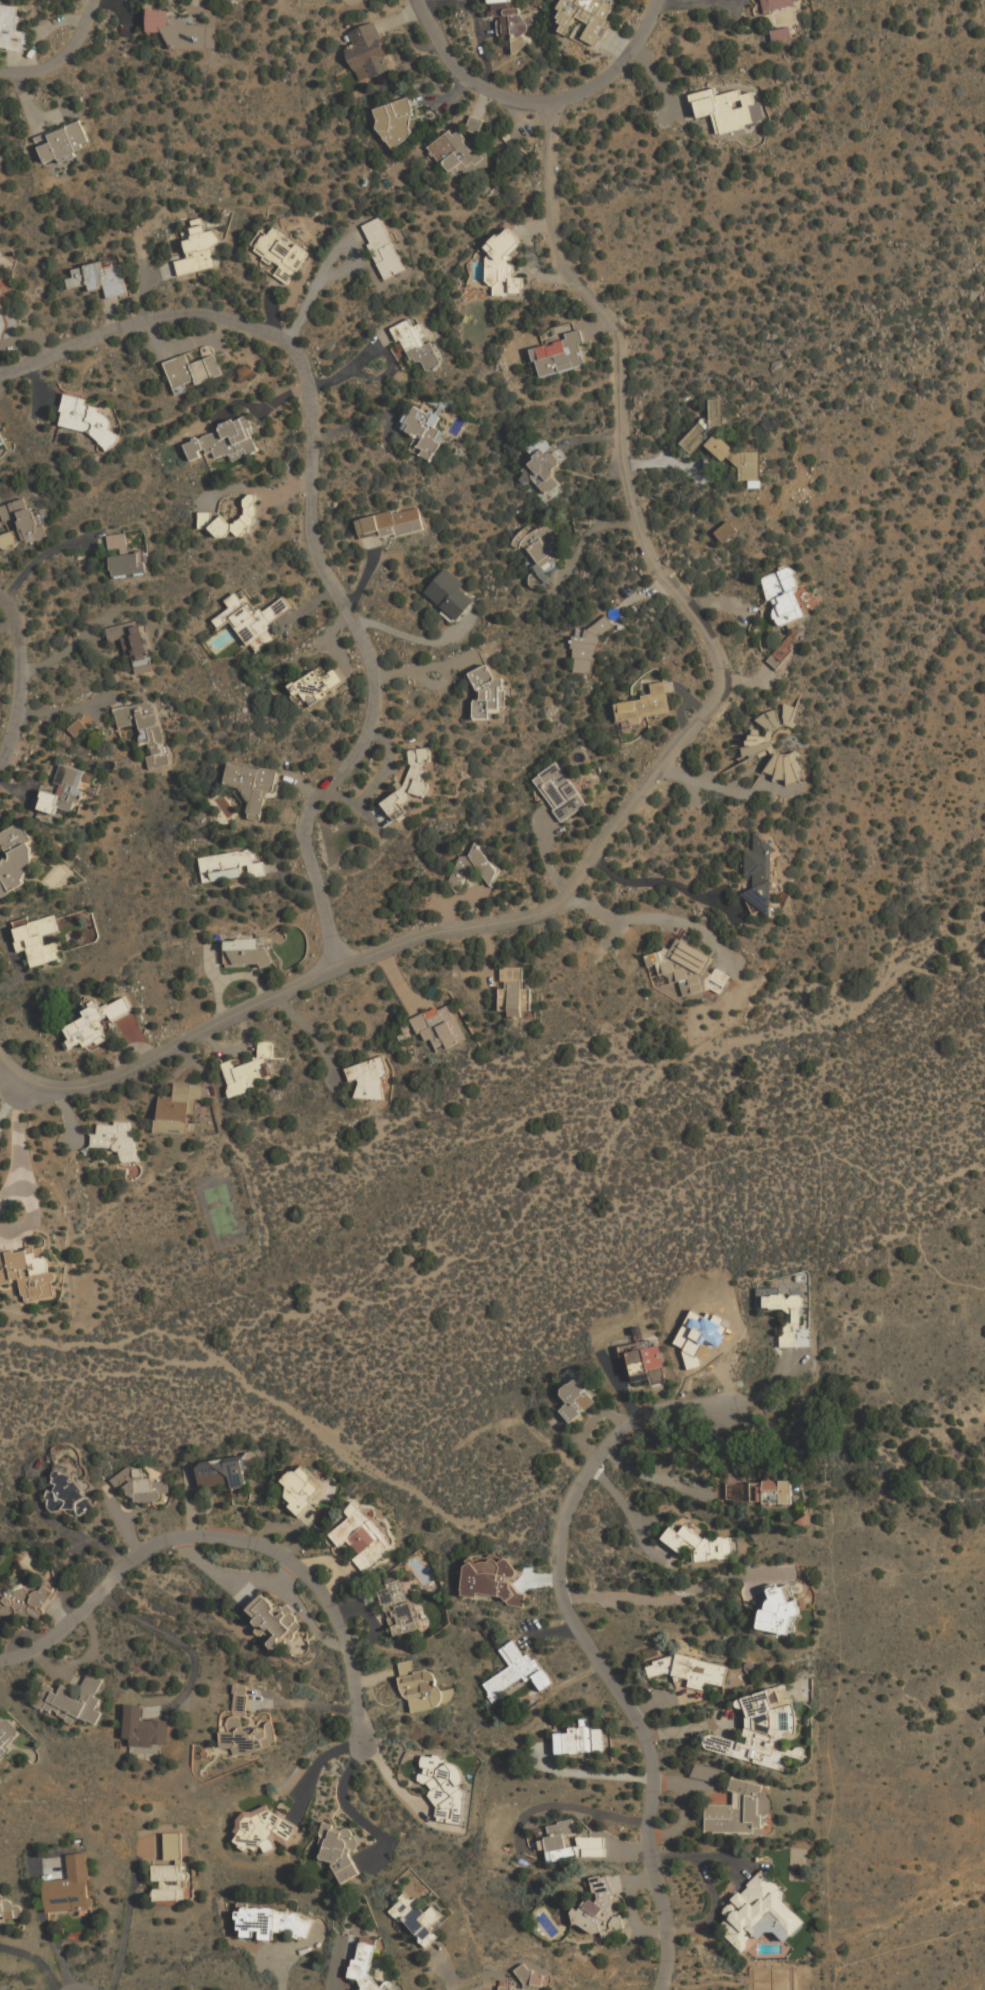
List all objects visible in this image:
building: (775, 4)
building: (586, 17)
building: (512, 18)
building: (12, 29)
building: (176, 30)
building: (780, 34)
building: (367, 51)
road: (65, 60)
road: (538, 102)
building: (727, 107)
building: (396, 122)
building: (474, 123)
building: (63, 142)
building: (458, 151)
building: (303, 228)
building: (383, 246)
building: (198, 247)
building: (282, 253)
building: (503, 266)
building: (100, 276)
building: (417, 343)
building: (559, 354)
building: (192, 371)
building: (85, 418)
building: (705, 424)
building: (424, 429)
building: (224, 440)
building: (1, 441)
building: (735, 453)
building: (544, 468)
building: (212, 517)
building: (23, 518)
road: (315, 520)
building: (390, 522)
building: (726, 530)
building: (117, 540)
building: (541, 547)
road: (39, 563)
building: (129, 563)
building: (449, 592)
building: (784, 595)
building: (252, 619)
building: (590, 640)
road: (77, 642)
building: (133, 644)
road: (19, 677)
building: (315, 683)
building: (485, 692)
building: (644, 705)
road: (65, 710)
building: (142, 722)
building: (75, 728)
building: (758, 743)
building: (410, 781)
road: (647, 785)
building: (250, 786)
building: (65, 790)
building: (559, 790)
building: (15, 858)
building: (231, 864)
building: (473, 867)
building: (760, 879)
road: (666, 882)
building: (38, 940)
building: (245, 951)
building: (687, 967)
building: (513, 990)
building: (94, 1021)
building: (439, 1025)
building: (245, 1071)
building: (368, 1076)
building: (178, 1105)
building: (116, 1138)
road: (620, 1202)
park: (220, 1209)
building: (28, 1270)
building: (787, 1315)
building: (645, 1362)
building: (577, 1398)
building: (221, 1472)
road: (386, 1481)
building: (140, 1485)
building: (303, 1488)
building: (761, 1492)
building: (67, 1494)
road: (631, 1516)
road: (231, 1535)
building: (363, 1536)
building: (701, 1543)
building: (492, 1580)
road: (673, 1593)
building: (24, 1600)
building: (399, 1605)
building: (779, 1607)
building: (274, 1619)
road: (587, 1640)
road: (179, 1642)
building: (688, 1669)
building: (518, 1671)
building: (423, 1687)
building: (72, 1699)
road: (312, 1704)
building: (245, 1726)
building: (143, 1729)
building: (8, 1731)
building: (759, 1731)
building: (581, 1739)
road: (316, 1763)
building: (706, 1773)
building: (445, 1786)
building: (738, 1811)
building: (262, 1826)
building: (559, 1839)
building: (340, 1849)
building: (170, 1883)
building: (71, 1888)
building: (8, 1907)
building: (599, 1909)
building: (759, 1914)
building: (417, 1915)
building: (272, 1922)
building: (364, 1965)
building: (527, 1980)
road: (80, 1988)

